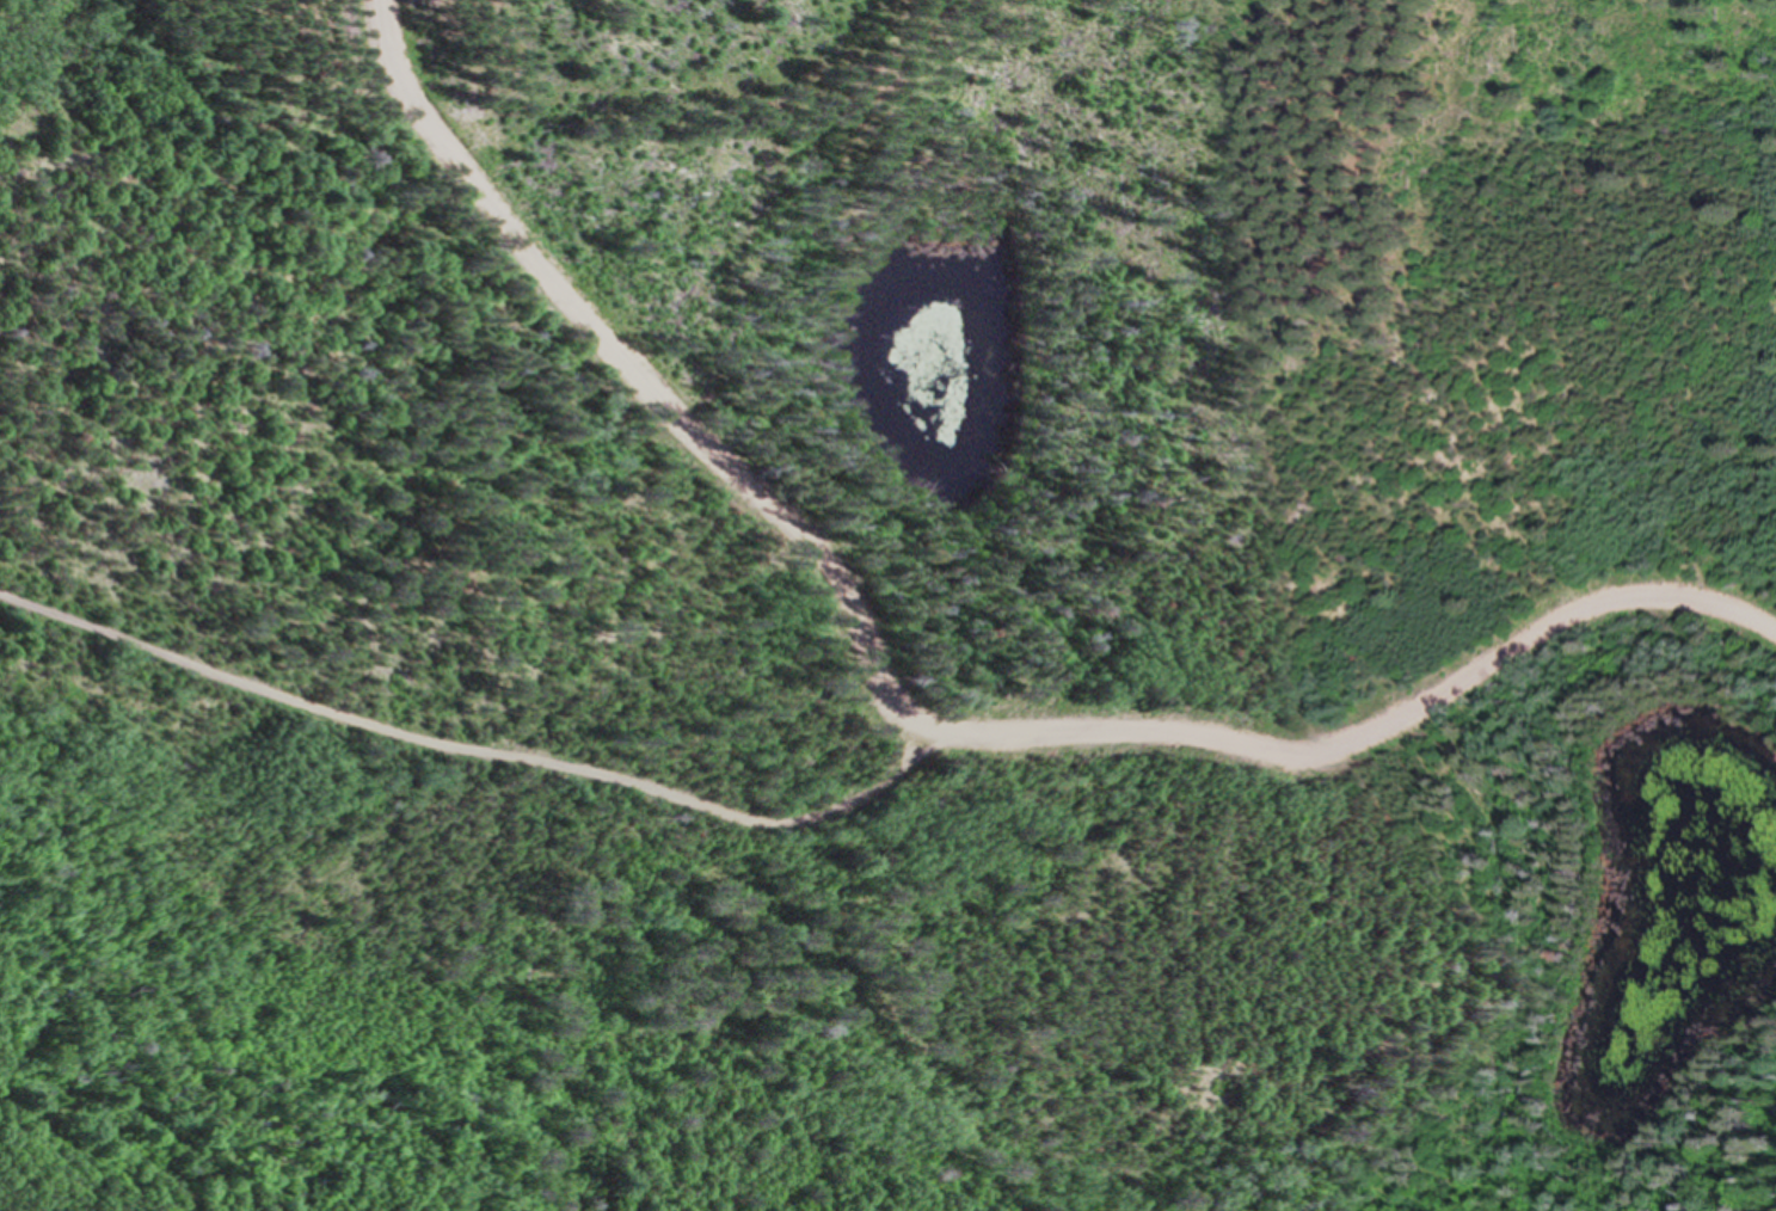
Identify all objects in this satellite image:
road: (389, 72)
road: (908, 726)

